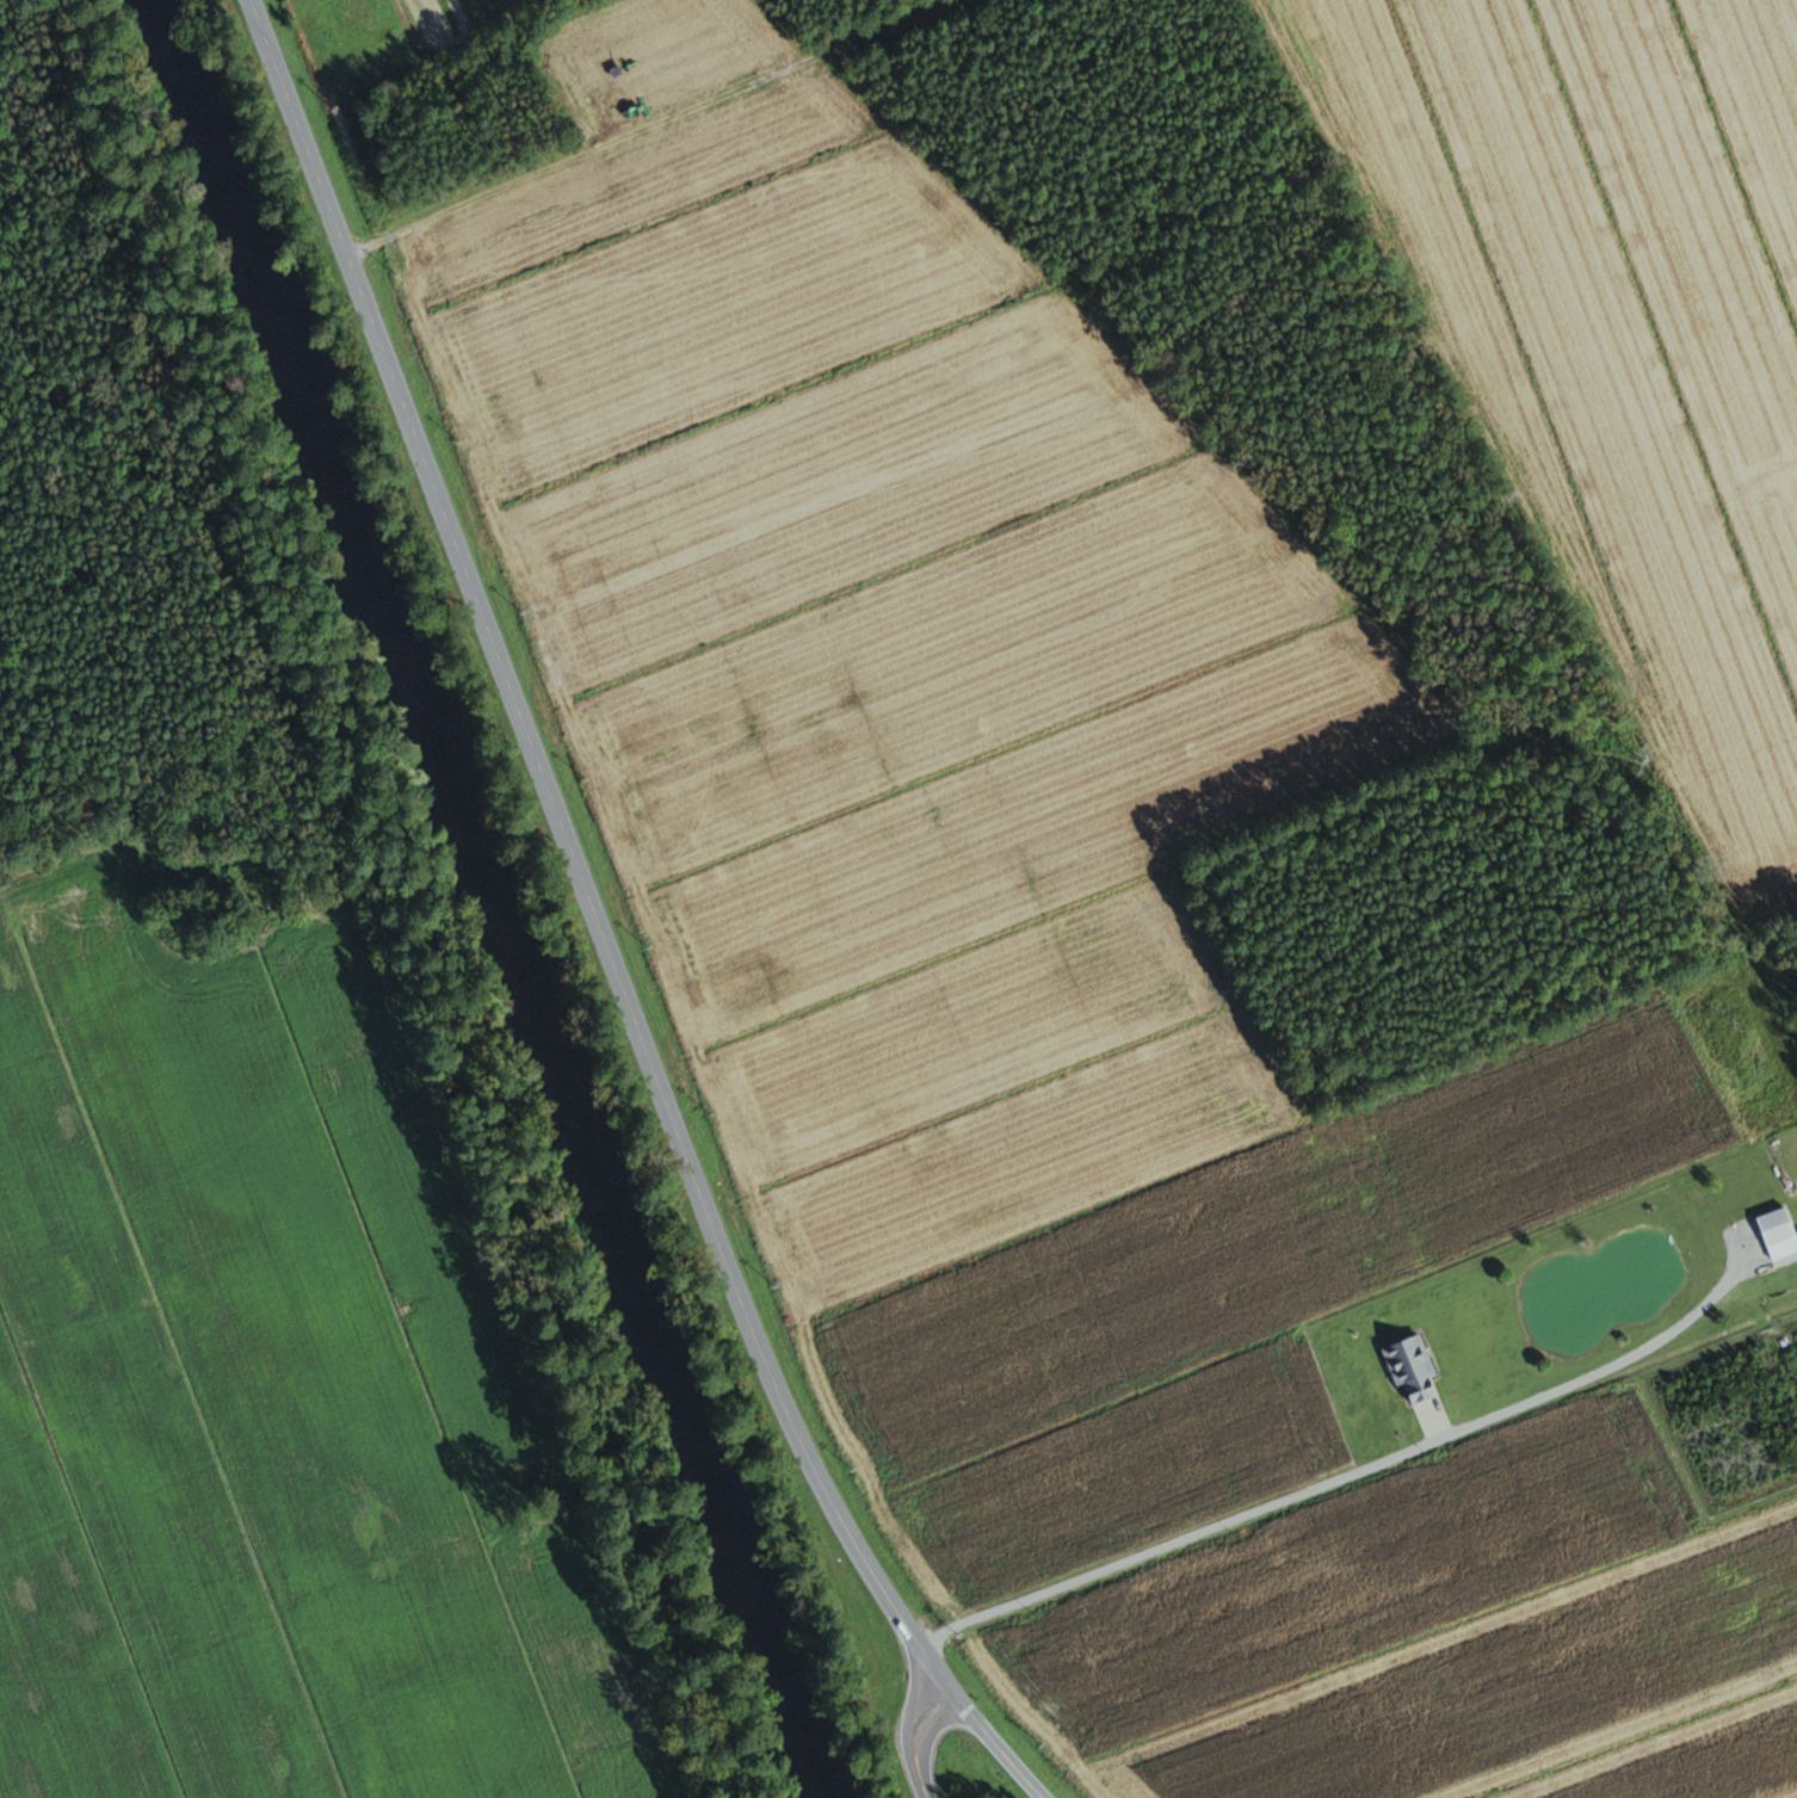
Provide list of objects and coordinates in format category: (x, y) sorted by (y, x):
road: (569, 857)
building: (1777, 1231)
building: (1412, 1367)
road: (1334, 1479)
road: (913, 1735)
road: (995, 1742)

